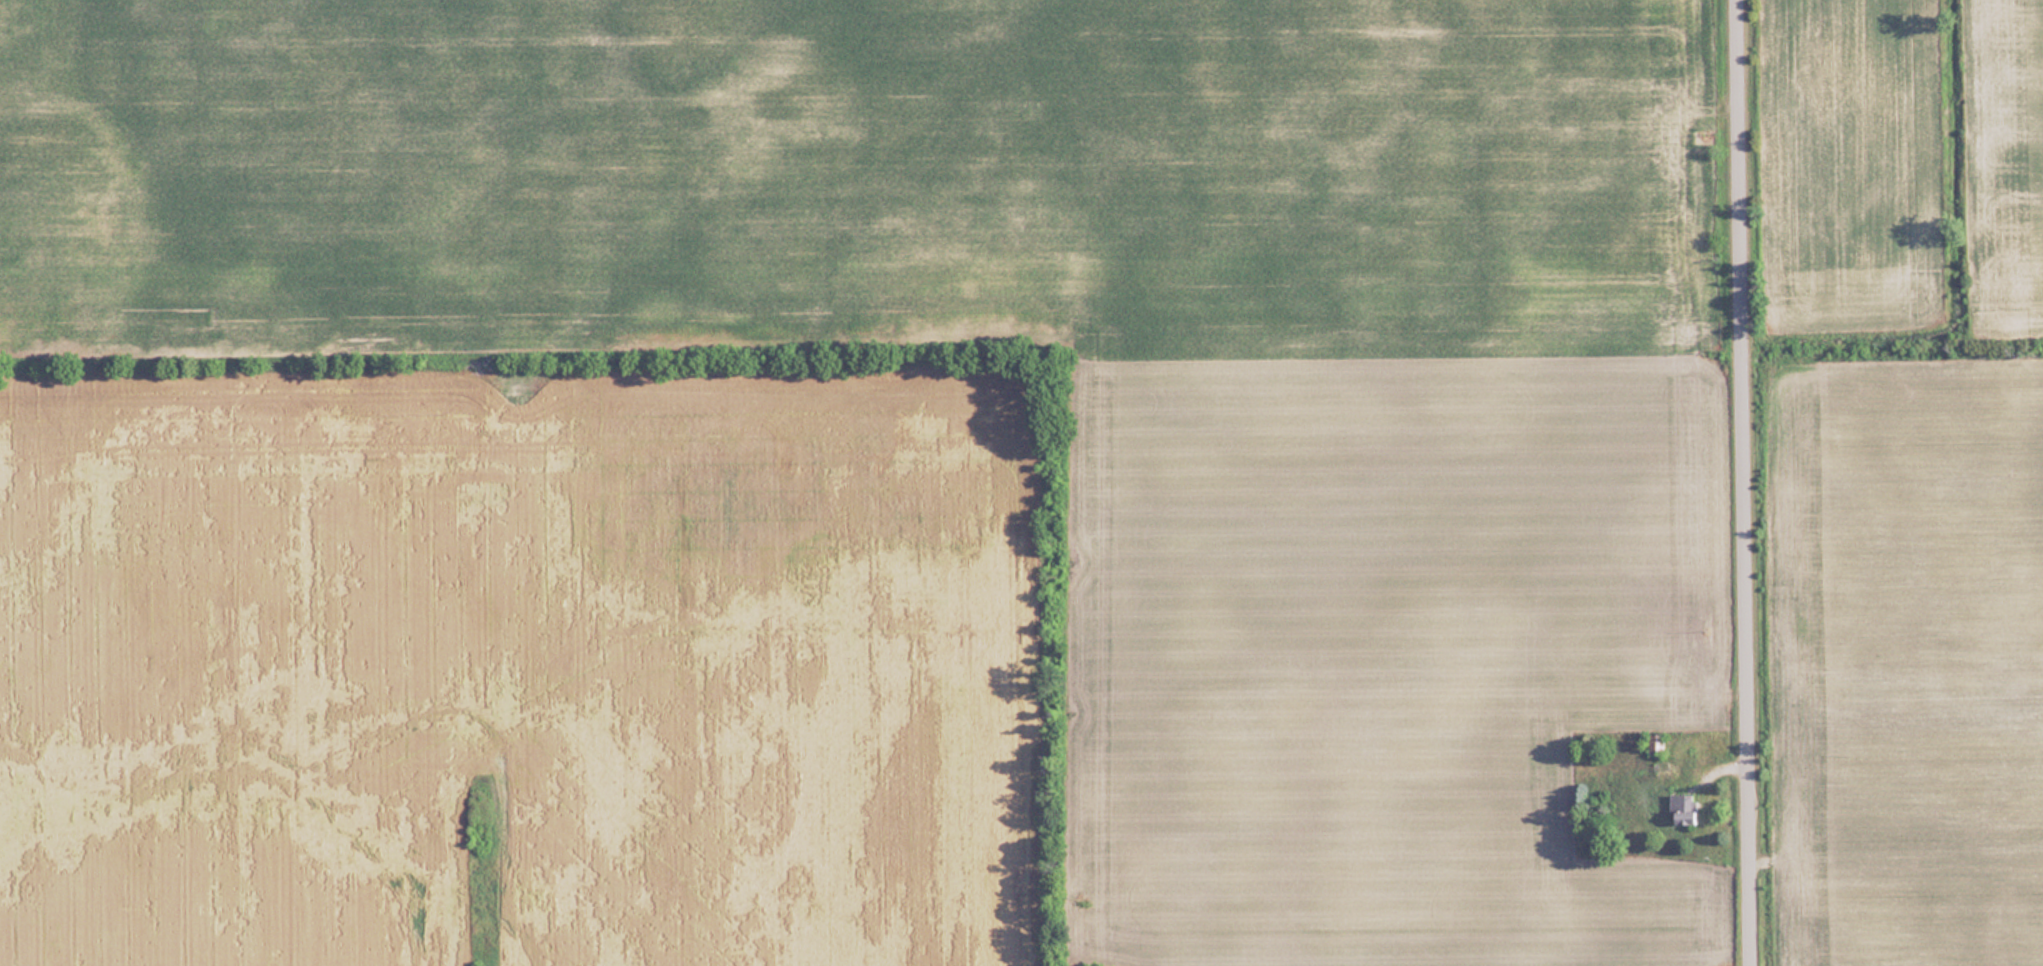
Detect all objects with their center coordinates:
road: (1746, 482)
building: (1654, 743)
building: (1682, 808)

